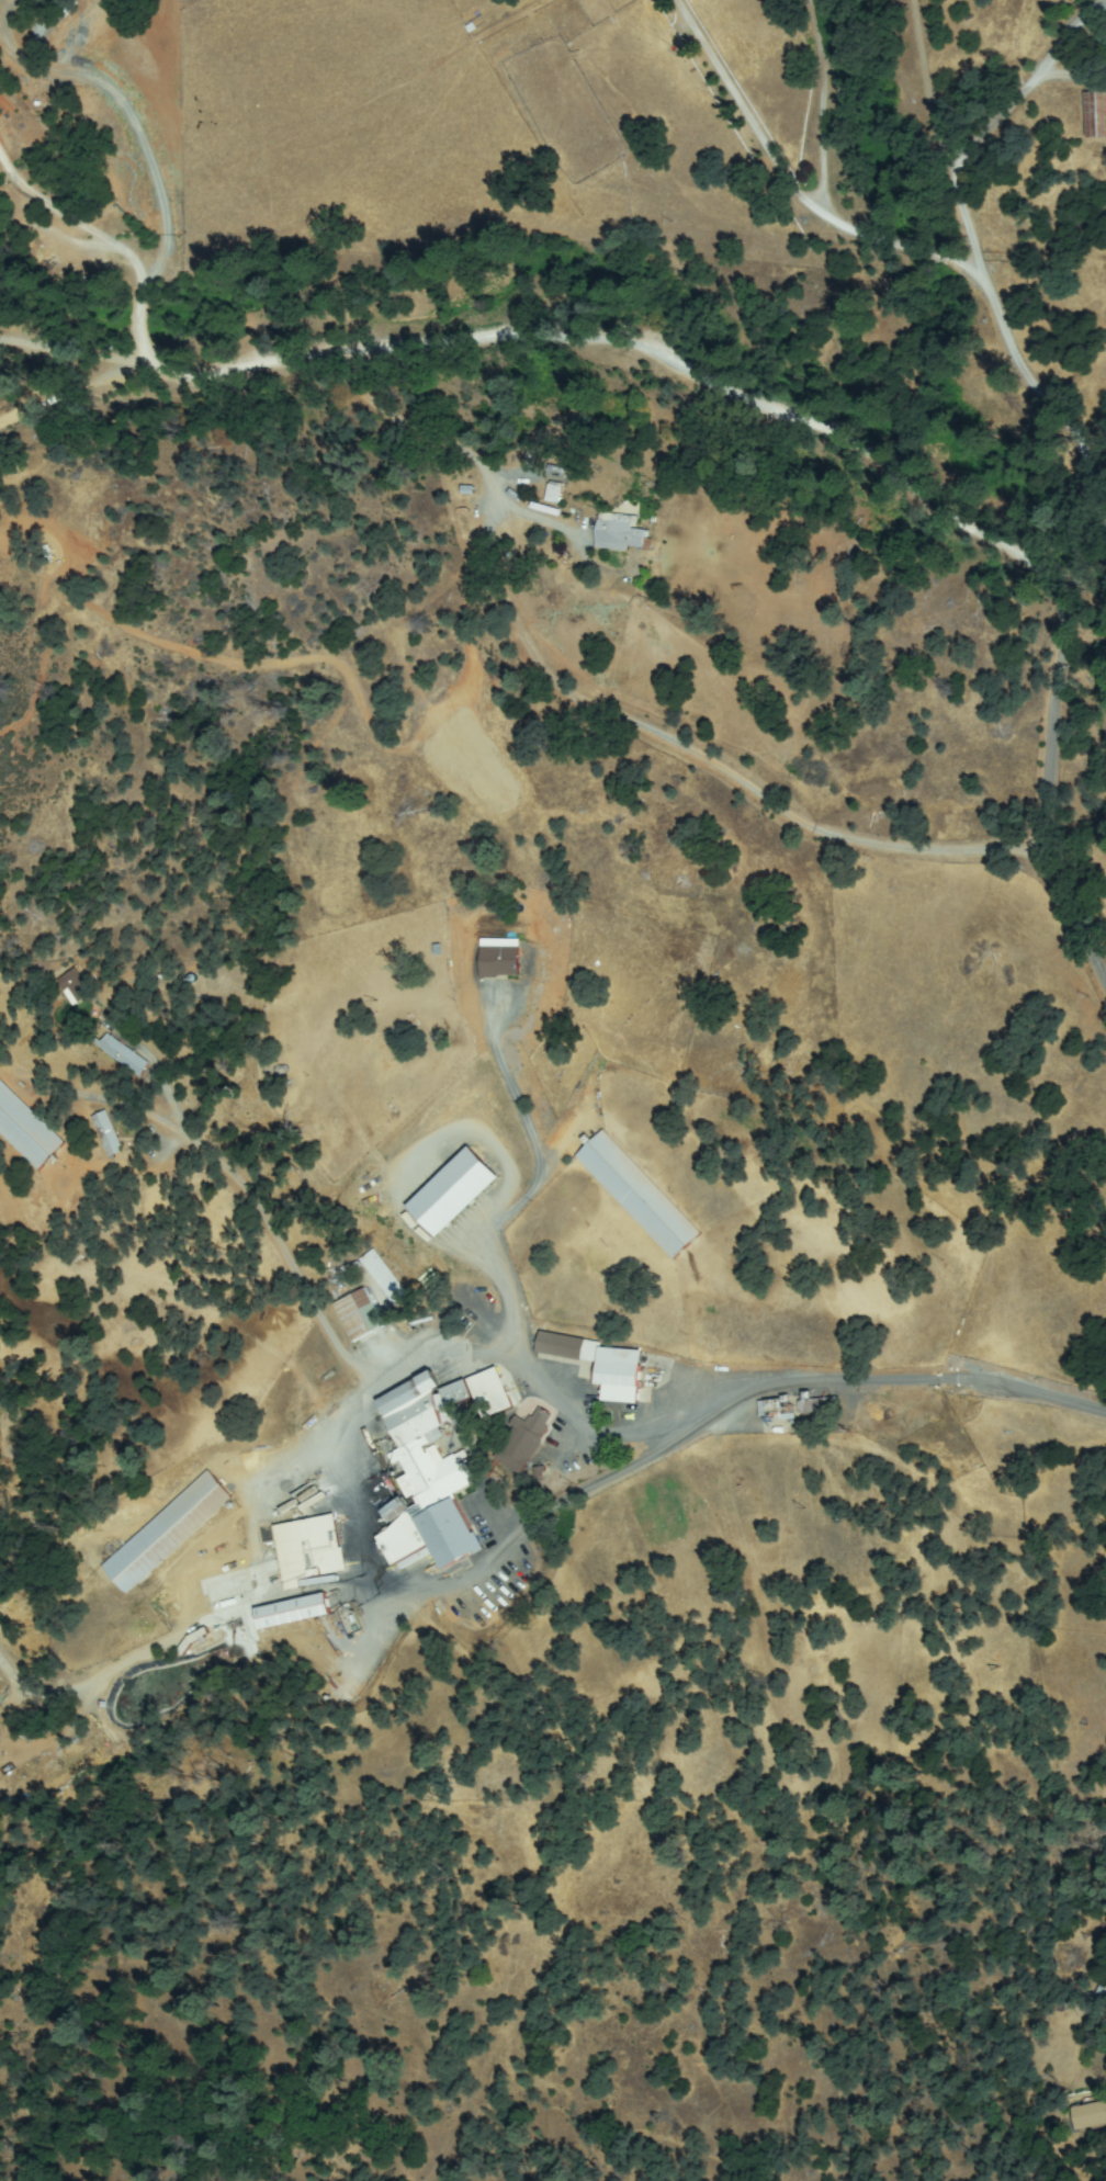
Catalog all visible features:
building: (1097, 112)
road: (953, 170)
road: (1071, 191)
road: (782, 415)
building: (550, 491)
road: (1092, 529)
building: (620, 532)
road: (1091, 561)
building: (500, 959)
building: (71, 985)
building: (114, 987)
building: (122, 1055)
building: (26, 1129)
building: (106, 1133)
building: (454, 1193)
building: (639, 1195)
building: (382, 1277)
building: (359, 1315)
building: (569, 1348)
building: (619, 1369)
road: (940, 1378)
building: (492, 1388)
building: (817, 1405)
building: (777, 1410)
building: (522, 1442)
building: (428, 1472)
building: (167, 1532)
building: (311, 1549)
building: (414, 1560)
building: (295, 1612)
building: (194, 1640)
building: (1103, 1989)
building: (1087, 2114)

